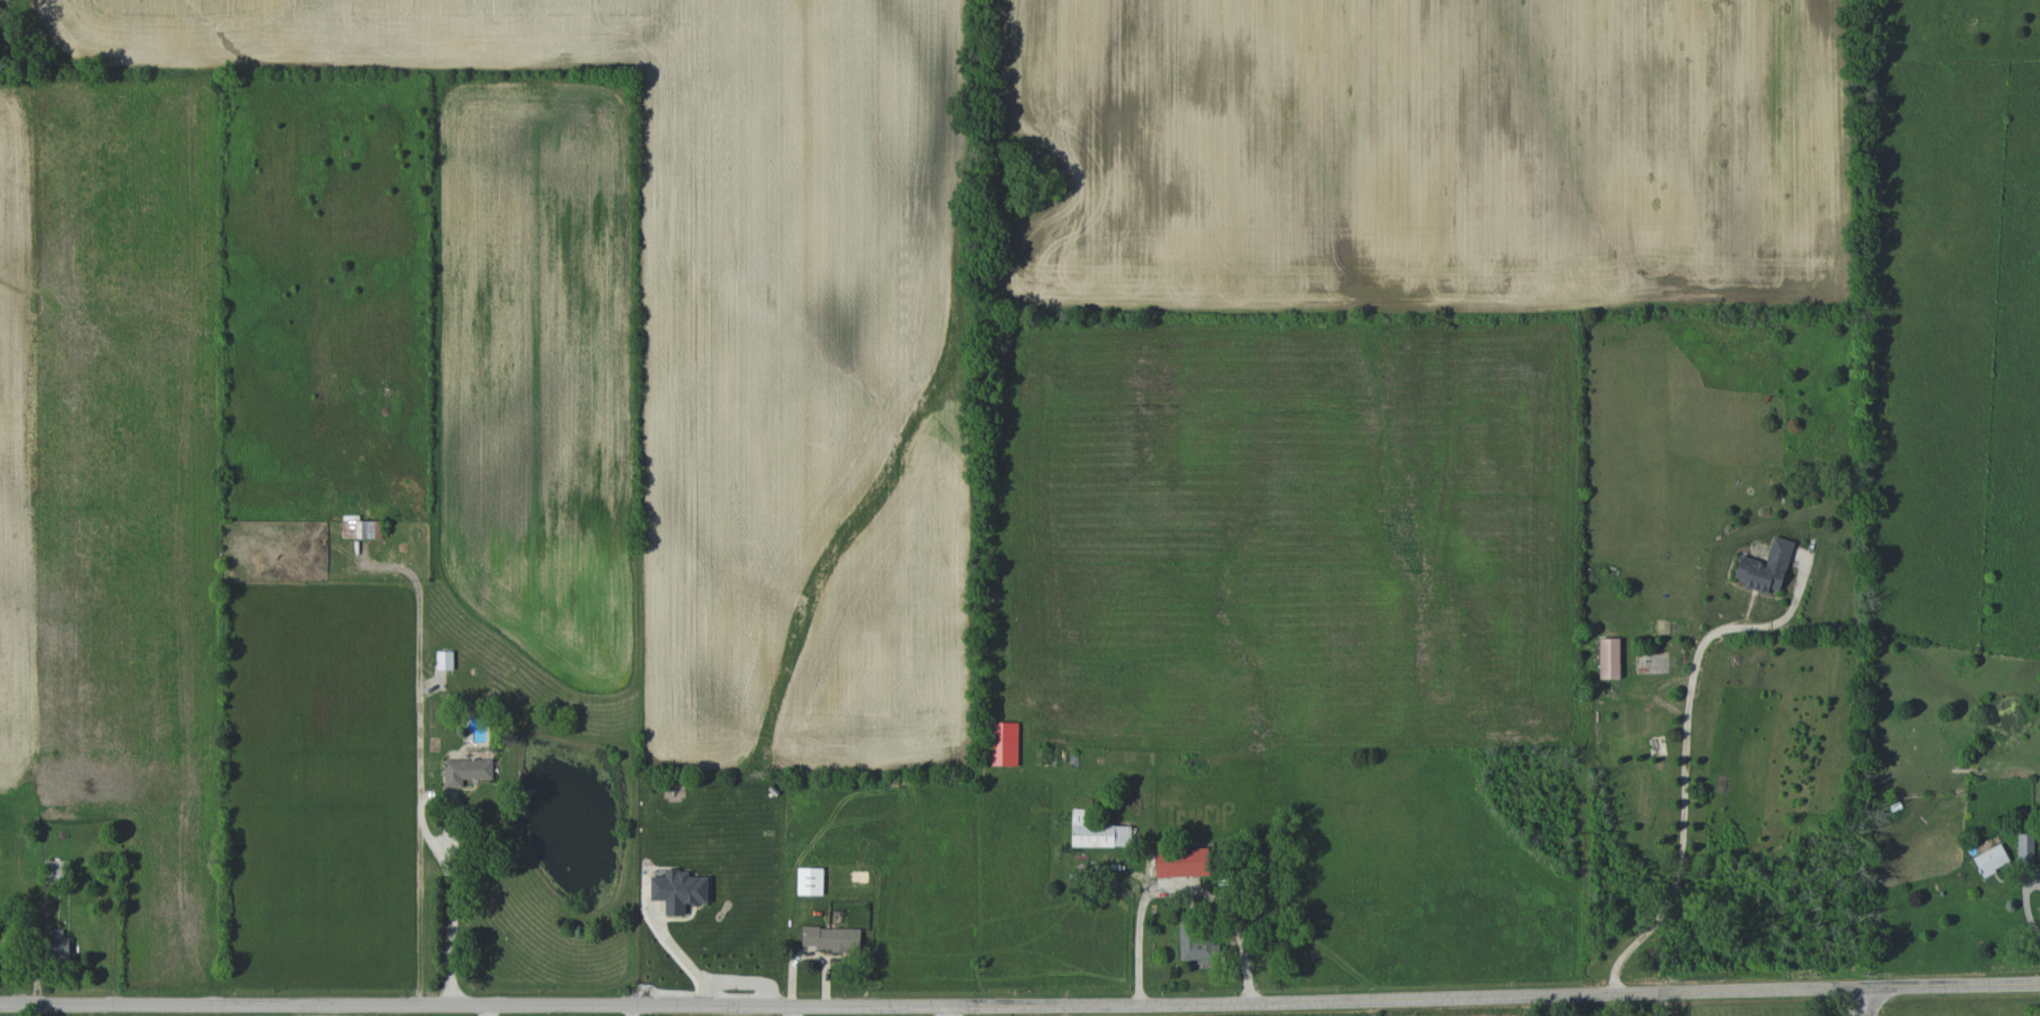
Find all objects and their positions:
building: (362, 529)
building: (1766, 567)
building: (1609, 658)
building: (445, 660)
building: (1005, 743)
building: (466, 770)
road: (1685, 790)
building: (1097, 831)
building: (2025, 846)
building: (1992, 859)
building: (1181, 862)
building: (810, 881)
road: (1184, 887)
building: (679, 890)
road: (453, 904)
road: (2026, 907)
building: (831, 938)
building: (59, 944)
building: (1196, 947)
road: (1870, 1000)
road: (1020, 1005)
road: (1860, 1009)
road: (638, 1011)

